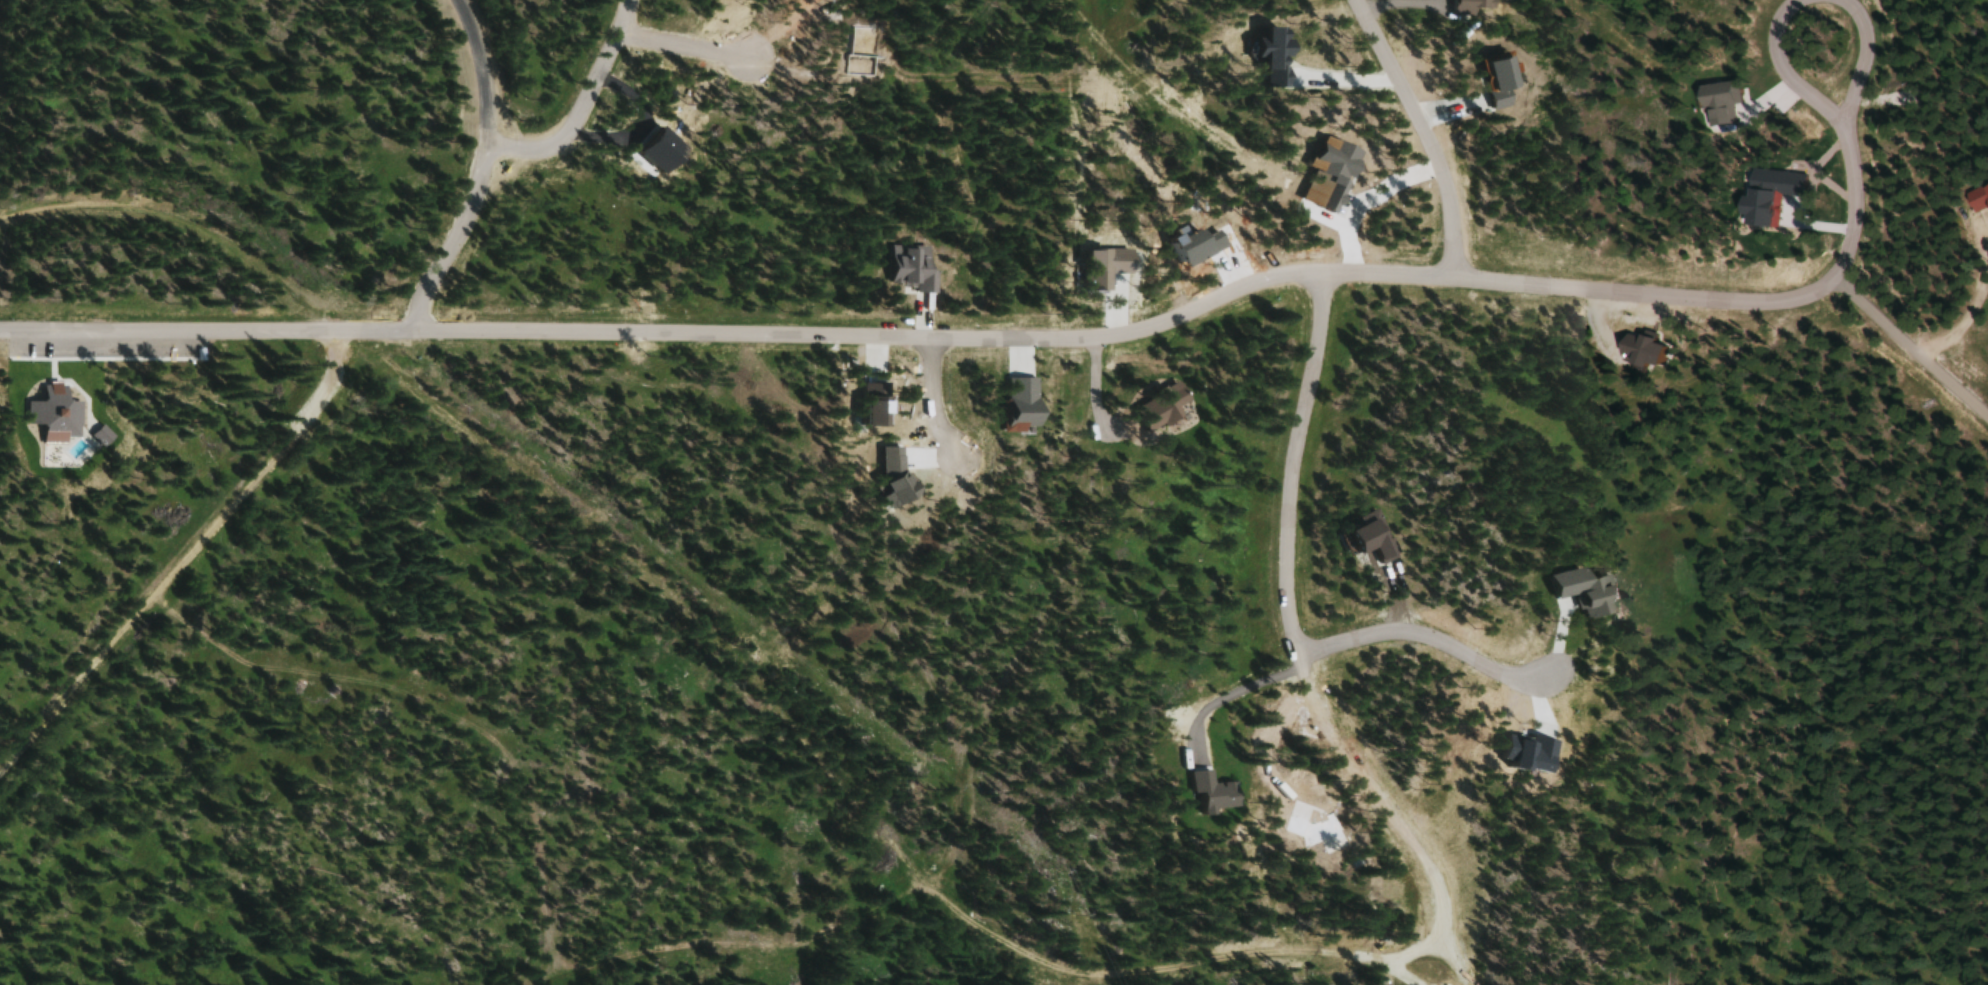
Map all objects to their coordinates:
road: (685, 50)
road: (579, 102)
road: (1829, 109)
road: (1426, 133)
road: (477, 171)
building: (1976, 198)
road: (1852, 205)
road: (16, 214)
road: (1027, 340)
road: (930, 401)
building: (1163, 408)
road: (1285, 463)
road: (169, 564)
road: (1426, 635)
road: (729, 659)
road: (1243, 690)
road: (1390, 809)

